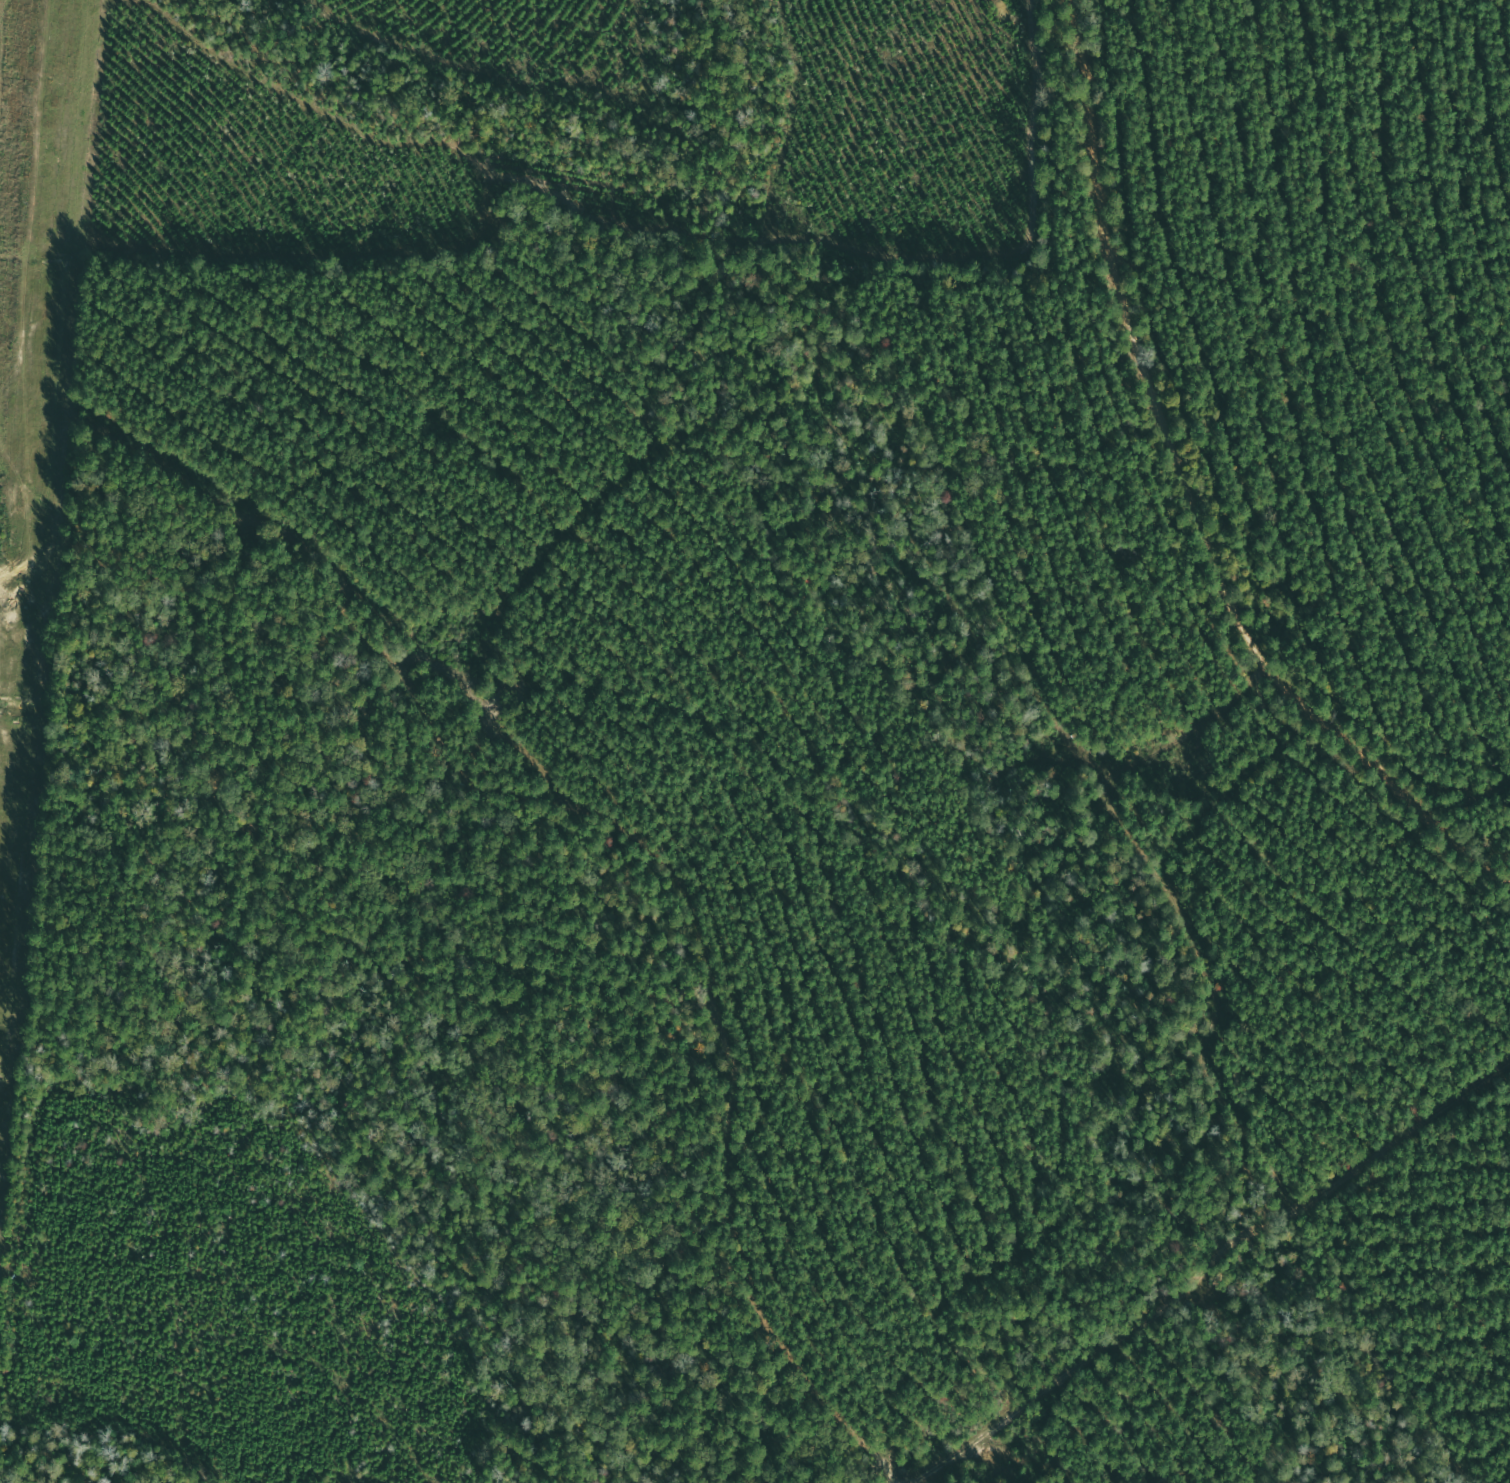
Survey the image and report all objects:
road: (1156, 516)

